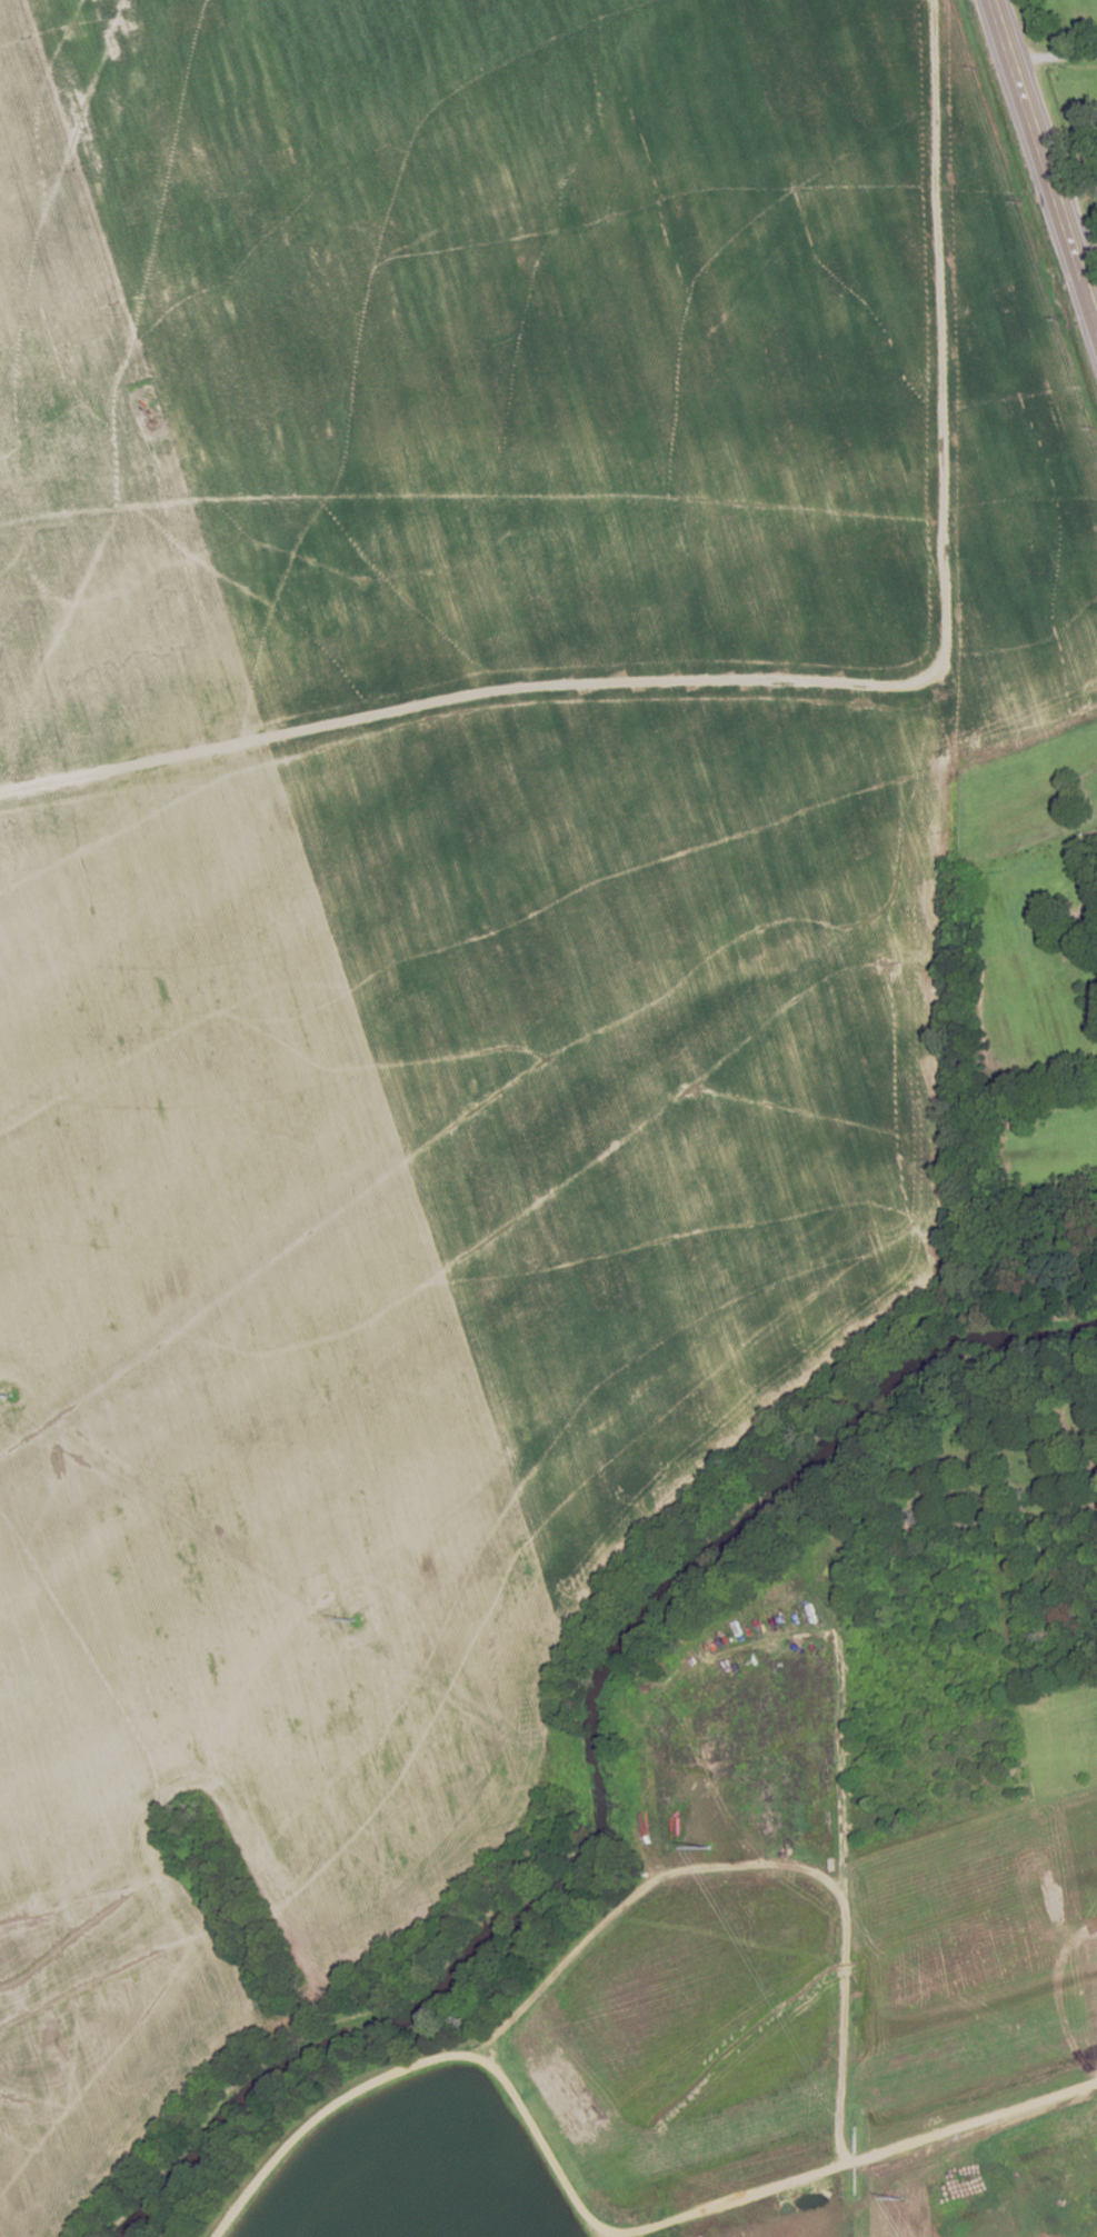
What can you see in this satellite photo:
road: (1050, 51)
road: (1041, 168)
road: (106, 349)
road: (802, 683)
road: (984, 2130)

